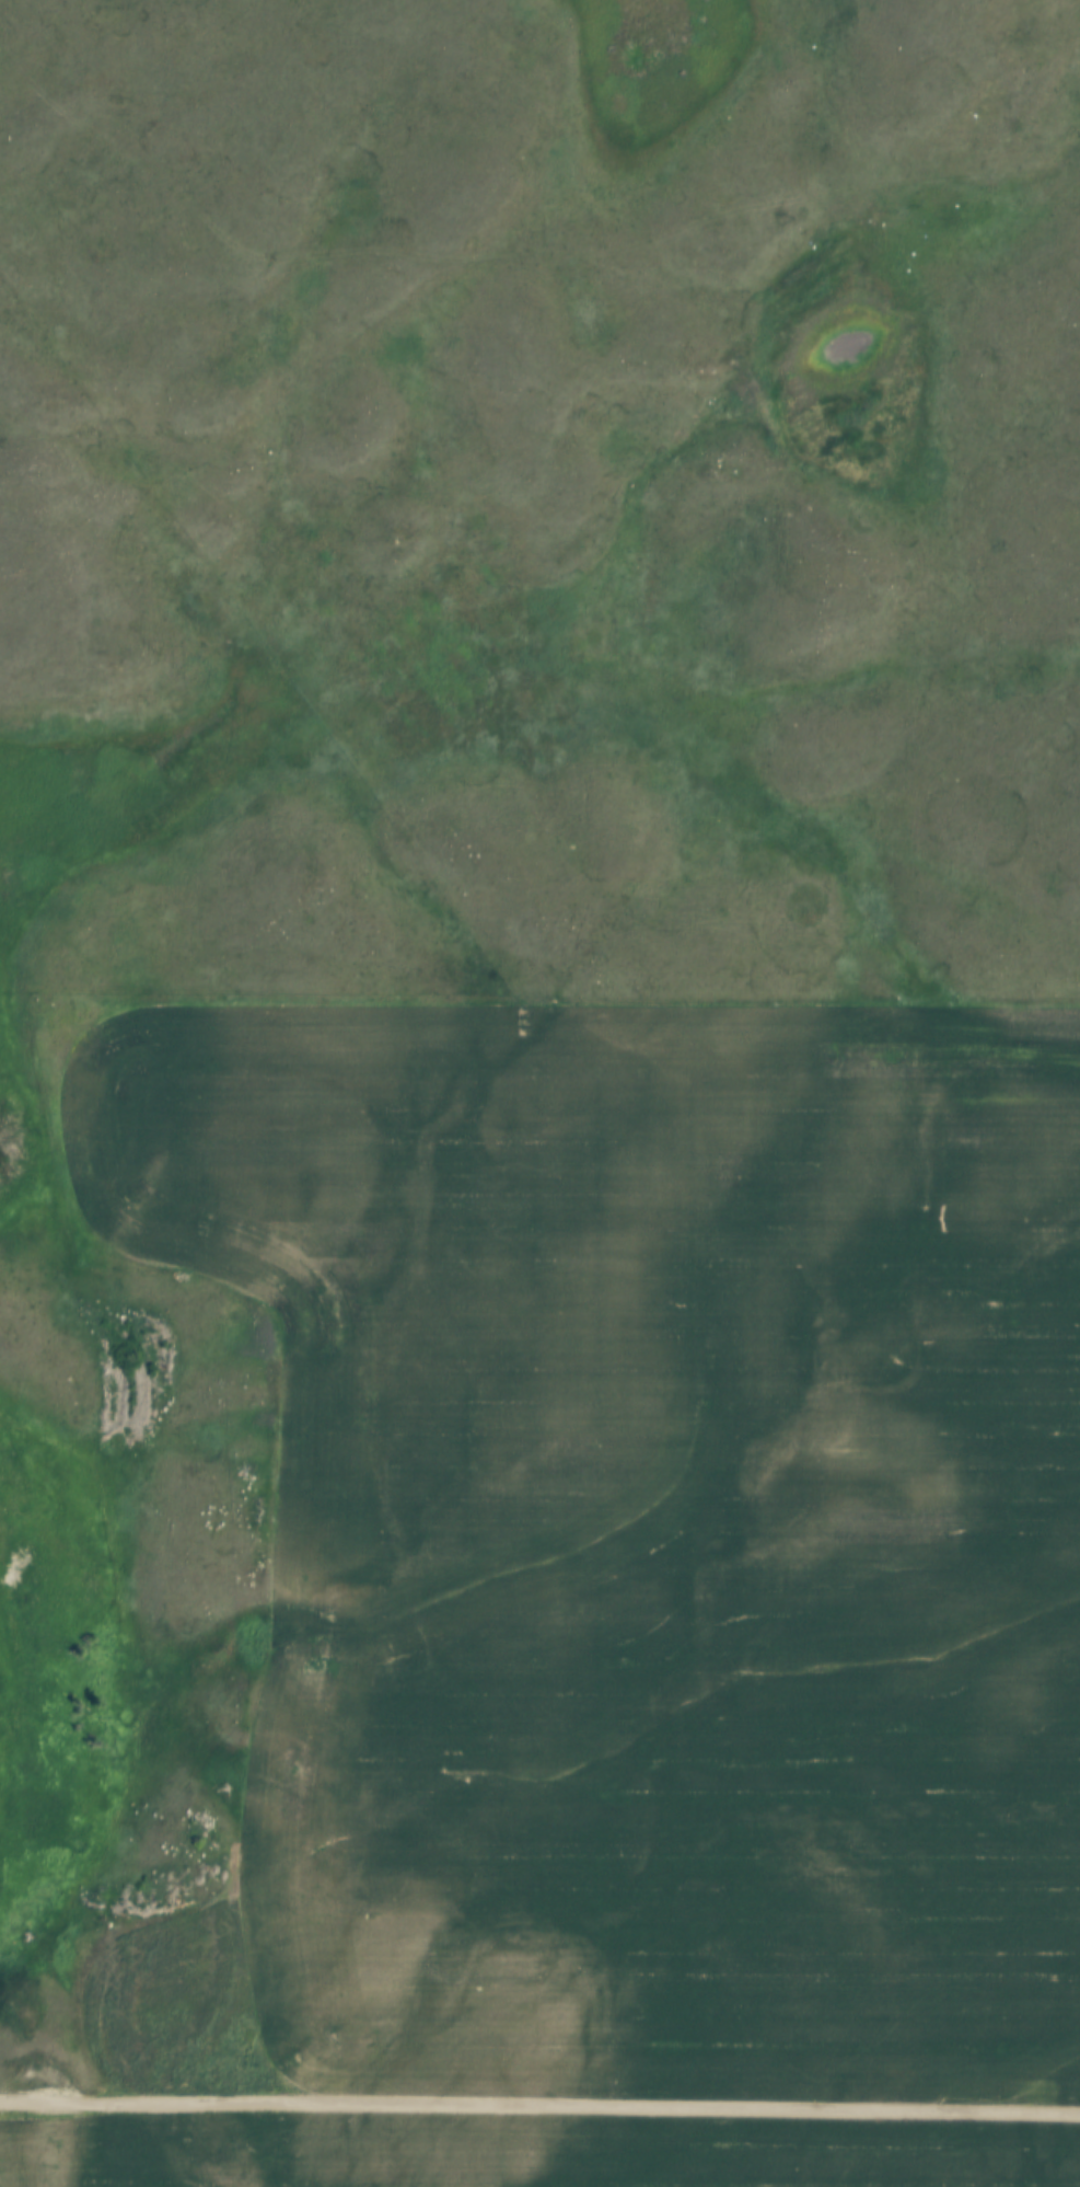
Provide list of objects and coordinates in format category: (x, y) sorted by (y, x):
road: (539, 2105)

